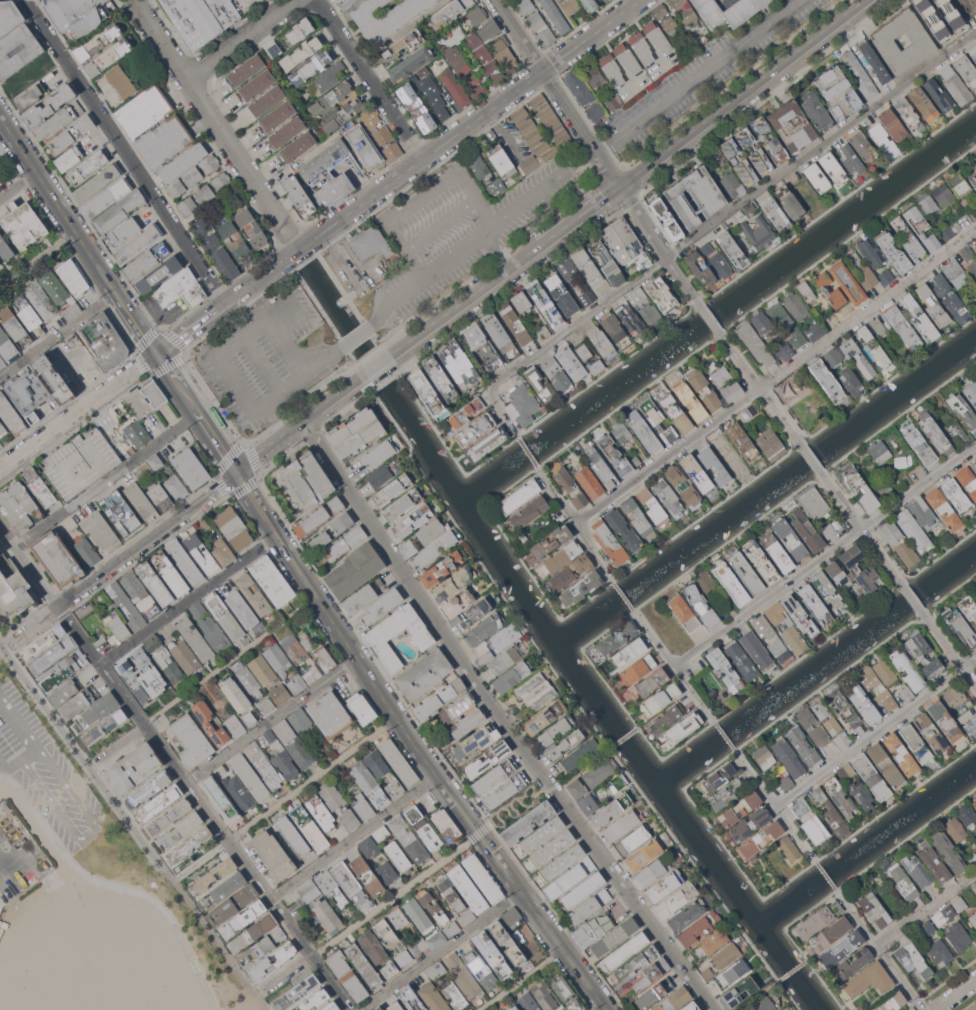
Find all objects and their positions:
road: (301, 0)
building: (559, 0)
building: (346, 3)
building: (591, 4)
building: (678, 4)
building: (524, 6)
building: (570, 6)
building: (728, 11)
building: (975, 11)
building: (660, 12)
building: (449, 13)
building: (949, 13)
building: (78, 15)
building: (555, 15)
building: (688, 16)
building: (9, 17)
building: (386, 17)
building: (931, 17)
building: (199, 18)
building: (473, 18)
building: (535, 21)
building: (669, 26)
building: (489, 30)
building: (297, 33)
building: (656, 36)
building: (546, 37)
road: (245, 38)
building: (97, 41)
building: (883, 41)
building: (400, 47)
building: (478, 47)
building: (641, 47)
building: (18, 50)
building: (274, 50)
building: (972, 52)
building: (300, 53)
building: (504, 54)
building: (108, 56)
building: (627, 58)
building: (457, 60)
building: (412, 63)
building: (875, 63)
building: (490, 67)
building: (310, 68)
building: (611, 69)
building: (245, 70)
building: (966, 71)
parking lot: (706, 72)
building: (858, 75)
road: (699, 76)
building: (329, 77)
road: (369, 77)
building: (497, 77)
building: (595, 77)
building: (121, 81)
building: (471, 81)
building: (255, 86)
building: (955, 86)
building: (454, 87)
building: (579, 87)
building: (478, 91)
road: (556, 93)
road: (739, 93)
building: (836, 93)
building: (938, 94)
building: (433, 96)
building: (28, 98)
building: (331, 99)
building: (266, 101)
building: (612, 102)
building: (922, 104)
building: (47, 107)
building: (418, 109)
building: (144, 110)
building: (595, 112)
building: (815, 112)
building: (908, 114)
building: (341, 115)
building: (276, 117)
building: (371, 119)
building: (55, 122)
road: (216, 124)
building: (892, 125)
building: (793, 126)
building: (759, 127)
building: (286, 132)
building: (72, 133)
building: (540, 133)
building: (381, 136)
building: (744, 138)
building: (164, 141)
building: (884, 142)
building: (363, 145)
building: (862, 146)
building: (296, 147)
building: (730, 149)
road: (125, 151)
building: (392, 151)
building: (776, 152)
building: (715, 157)
building: (69, 158)
building: (851, 160)
building: (183, 162)
building: (370, 162)
building: (209, 163)
building: (761, 163)
building: (503, 164)
building: (87, 167)
building: (833, 169)
road: (432, 170)
building: (746, 173)
building: (328, 174)
building: (486, 174)
road: (397, 175)
building: (192, 177)
building: (817, 179)
building: (973, 179)
building: (221, 181)
building: (97, 183)
building: (959, 185)
building: (733, 186)
road: (18, 187)
building: (176, 189)
road: (545, 189)
building: (204, 194)
building: (943, 194)
building: (298, 195)
building: (696, 195)
building: (107, 198)
road: (420, 198)
building: (789, 202)
building: (927, 204)
building: (187, 206)
road: (58, 207)
building: (213, 208)
building: (748, 208)
road: (732, 209)
building: (118, 212)
building: (774, 212)
road: (578, 214)
building: (666, 219)
building: (23, 225)
road: (440, 225)
building: (957, 225)
building: (200, 227)
parking lot: (462, 227)
building: (921, 228)
building: (251, 229)
building: (124, 231)
building: (948, 232)
building: (759, 233)
building: (908, 240)
building: (234, 241)
building: (211, 243)
building: (370, 243)
building: (137, 244)
building: (624, 244)
road: (658, 244)
building: (975, 247)
building: (730, 248)
building: (5, 249)
building: (706, 250)
building: (975, 250)
building: (871, 251)
building: (893, 252)
building: (967, 252)
road: (351, 253)
building: (146, 260)
road: (38, 261)
building: (386, 261)
building: (0, 263)
building: (607, 263)
building: (225, 264)
building: (586, 266)
building: (720, 266)
building: (567, 268)
building: (700, 269)
building: (862, 270)
building: (972, 270)
building: (954, 271)
road: (430, 272)
building: (158, 274)
building: (886, 276)
building: (74, 277)
building: (848, 283)
building: (53, 286)
building: (180, 289)
road: (716, 289)
building: (805, 290)
road: (505, 292)
building: (537, 293)
building: (833, 294)
building: (661, 295)
building: (561, 296)
building: (636, 296)
building: (950, 297)
building: (587, 298)
road: (464, 299)
building: (272, 300)
building: (41, 301)
building: (521, 302)
building: (933, 305)
building: (796, 306)
building: (70, 310)
road: (868, 310)
building: (650, 313)
building: (552, 315)
building: (29, 316)
building: (919, 317)
building: (630, 319)
road: (709, 319)
building: (762, 322)
building: (514, 323)
road: (733, 323)
road: (136, 324)
building: (785, 324)
building: (14, 327)
building: (902, 327)
building: (878, 328)
road: (165, 332)
building: (616, 332)
building: (815, 332)
building: (542, 334)
road: (58, 335)
road: (357, 337)
building: (500, 337)
building: (101, 341)
building: (602, 343)
building: (755, 343)
building: (481, 345)
building: (7, 346)
building: (874, 346)
building: (783, 350)
road: (287, 352)
building: (583, 352)
traffic signals: (157, 353)
building: (833, 357)
building: (858, 357)
parking lot: (266, 358)
road: (219, 360)
road: (262, 361)
building: (2, 362)
building: (571, 364)
building: (459, 365)
building: (550, 365)
road: (376, 366)
building: (597, 367)
road: (167, 368)
building: (721, 375)
building: (975, 377)
building: (53, 378)
building: (440, 379)
road: (384, 380)
building: (851, 380)
building: (827, 381)
building: (561, 383)
building: (539, 384)
road: (757, 385)
building: (35, 386)
road: (281, 387)
building: (703, 389)
building: (732, 391)
building: (970, 391)
building: (153, 393)
building: (427, 393)
building: (21, 398)
road: (187, 398)
building: (664, 398)
road: (333, 399)
building: (138, 403)
building: (524, 404)
building: (695, 405)
road: (78, 409)
road: (342, 410)
building: (963, 410)
road: (502, 412)
building: (747, 413)
building: (465, 414)
building: (11, 415)
road: (273, 418)
building: (658, 420)
road: (432, 422)
building: (131, 424)
building: (687, 424)
building: (2, 428)
building: (476, 429)
building: (621, 431)
building: (114, 432)
building: (644, 432)
building: (934, 433)
building: (957, 433)
building: (357, 435)
road: (216, 442)
building: (743, 442)
building: (769, 443)
building: (486, 444)
building: (919, 444)
road: (268, 447)
road: (528, 451)
building: (879, 451)
building: (378, 453)
road: (667, 455)
building: (728, 455)
building: (614, 456)
road: (809, 456)
building: (155, 460)
building: (635, 460)
building: (903, 461)
building: (80, 462)
road: (773, 462)
building: (973, 463)
road: (254, 465)
building: (714, 465)
building: (191, 468)
building: (602, 468)
building: (145, 472)
traffic signals: (235, 474)
building: (695, 474)
building: (379, 476)
building: (587, 478)
road: (105, 479)
building: (306, 480)
building: (906, 480)
building: (967, 481)
road: (919, 484)
building: (39, 486)
building: (176, 486)
building: (571, 487)
building: (683, 487)
building: (865, 489)
building: (885, 489)
building: (391, 490)
road: (210, 492)
building: (955, 494)
building: (519, 496)
building: (161, 497)
building: (668, 497)
road: (783, 499)
building: (141, 502)
building: (813, 503)
building: (335, 504)
building: (402, 505)
building: (653, 506)
building: (19, 507)
building: (944, 510)
building: (119, 511)
building: (529, 512)
building: (923, 512)
building: (637, 516)
building: (413, 521)
building: (311, 522)
building: (342, 523)
road: (575, 523)
road: (864, 527)
building: (234, 528)
building: (806, 529)
building: (623, 530)
building: (101, 531)
building: (828, 531)
building: (430, 532)
building: (914, 533)
building: (789, 538)
building: (320, 541)
building: (347, 541)
building: (609, 542)
building: (550, 543)
building: (899, 543)
building: (408, 548)
building: (436, 548)
building: (87, 551)
building: (934, 552)
building: (201, 553)
building: (223, 553)
building: (563, 557)
building: (779, 557)
building: (57, 558)
road: (121, 558)
road: (523, 560)
building: (184, 562)
building: (761, 562)
road: (28, 566)
building: (439, 569)
building: (860, 569)
building: (354, 570)
building: (746, 572)
building: (170, 573)
building: (571, 573)
building: (837, 574)
building: (272, 580)
building: (155, 583)
building: (453, 583)
building: (731, 583)
building: (707, 584)
building: (581, 588)
building: (12, 589)
building: (828, 591)
building: (140, 594)
building: (253, 595)
road: (622, 595)
road: (769, 596)
road: (188, 600)
building: (359, 600)
building: (460, 601)
road: (913, 601)
building: (815, 603)
building: (125, 605)
building: (701, 605)
building: (381, 606)
building: (969, 609)
building: (242, 610)
building: (476, 612)
building: (683, 612)
building: (775, 613)
building: (224, 616)
building: (800, 617)
building: (960, 626)
road: (28, 627)
building: (118, 627)
building: (210, 628)
building: (256, 629)
building: (484, 629)
building: (505, 637)
building: (771, 637)
building: (376, 638)
building: (617, 638)
building: (196, 639)
building: (794, 639)
road: (822, 639)
building: (42, 641)
building: (306, 641)
building: (152, 642)
road: (1, 646)
building: (294, 649)
building: (756, 650)
building: (630, 652)
building: (923, 653)
road: (951, 654)
building: (52, 655)
building: (185, 657)
building: (506, 657)
building: (485, 658)
building: (277, 659)
building: (323, 659)
building: (740, 660)
building: (168, 664)
road: (673, 664)
building: (65, 669)
building: (148, 669)
building: (262, 669)
building: (725, 669)
building: (885, 670)
building: (908, 670)
building: (637, 671)
building: (312, 674)
building: (424, 674)
road: (833, 675)
building: (512, 677)
building: (868, 677)
building: (248, 679)
road: (201, 681)
building: (650, 683)
building: (296, 684)
building: (536, 691)
building: (906, 692)
building: (63, 693)
building: (279, 693)
building: (235, 694)
building: (953, 697)
building: (661, 698)
building: (839, 699)
building: (439, 700)
building: (885, 700)
building: (863, 702)
building: (969, 703)
building: (76, 704)
road: (577, 704)
road: (621, 704)
building: (102, 705)
building: (267, 705)
building: (361, 708)
building: (457, 708)
building: (821, 710)
building: (962, 710)
building: (522, 712)
building: (330, 715)
building: (852, 716)
building: (965, 716)
building: (545, 717)
building: (806, 717)
building: (249, 718)
road: (503, 719)
road: (271, 720)
building: (666, 720)
building: (300, 721)
building: (945, 721)
building: (209, 723)
building: (468, 723)
building: (235, 725)
building: (832, 725)
building: (971, 726)
building: (103, 727)
building: (682, 729)
building: (555, 730)
road: (876, 730)
building: (931, 732)
road: (723, 734)
building: (820, 735)
road: (623, 737)
building: (842, 739)
building: (191, 740)
building: (477, 740)
building: (915, 743)
building: (293, 744)
building: (565, 744)
road: (415, 745)
road: (437, 746)
building: (803, 747)
building: (253, 750)
road: (29, 753)
building: (901, 754)
building: (581, 755)
building: (763, 756)
building: (282, 757)
building: (788, 757)
building: (487, 759)
building: (399, 762)
road: (87, 764)
building: (886, 765)
building: (133, 768)
road: (581, 769)
parking lot: (44, 771)
building: (847, 771)
building: (384, 772)
building: (270, 776)
building: (871, 776)
building: (250, 777)
building: (493, 777)
building: (593, 777)
building: (720, 777)
building: (366, 780)
building: (786, 782)
building: (618, 783)
building: (148, 788)
building: (237, 790)
building: (505, 790)
building: (726, 795)
building: (861, 795)
road: (284, 798)
building: (841, 798)
building: (220, 800)
building: (384, 800)
building: (974, 802)
building: (158, 803)
road: (775, 803)
road: (511, 805)
building: (588, 805)
building: (339, 806)
road: (204, 807)
building: (363, 807)
building: (800, 808)
building: (612, 809)
building: (739, 809)
road: (86, 813)
building: (321, 813)
building: (830, 813)
building: (169, 816)
building: (967, 816)
road: (869, 819)
building: (528, 822)
building: (750, 824)
building: (445, 825)
building: (622, 825)
building: (309, 828)
building: (422, 828)
building: (815, 829)
building: (955, 829)
building: (179, 830)
building: (381, 833)
building: (542, 834)
building: (292, 835)
road: (906, 836)
road: (354, 837)
building: (761, 839)
building: (409, 840)
building: (632, 840)
road: (722, 842)
building: (188, 845)
building: (369, 847)
building: (551, 848)
building: (789, 848)
building: (948, 852)
building: (272, 855)
building: (644, 855)
building: (398, 857)
building: (674, 858)
building: (562, 862)
building: (934, 862)
building: (917, 872)
building: (387, 873)
road: (825, 873)
building: (649, 874)
building: (367, 876)
road: (4, 877)
building: (211, 877)
building: (483, 878)
building: (902, 881)
building: (565, 882)
building: (349, 883)
building: (665, 886)
building: (974, 887)
road: (116, 888)
building: (331, 888)
building: (467, 889)
building: (309, 890)
building: (581, 890)
building: (221, 891)
building: (450, 892)
building: (677, 900)
building: (959, 904)
building: (232, 905)
building: (432, 906)
building: (590, 906)
building: (874, 909)
road: (926, 909)
building: (949, 912)
building: (326, 914)
road: (368, 914)
building: (688, 914)
building: (419, 916)
building: (511, 916)
building: (466, 917)
building: (243, 918)
building: (397, 918)
building: (973, 919)
building: (818, 920)
building: (939, 920)
building: (700, 928)
building: (928, 928)
building: (450, 929)
building: (254, 932)
building: (385, 932)
building: (833, 932)
building: (278, 933)
building: (587, 934)
building: (958, 936)
building: (615, 937)
building: (436, 939)
road: (793, 941)
building: (507, 943)
road: (221, 945)
building: (709, 945)
building: (418, 946)
building: (373, 947)
building: (841, 949)
road: (879, 949)
building: (626, 950)
building: (256, 951)
road: (442, 951)
building: (492, 953)
building: (941, 953)
building: (727, 955)
building: (403, 957)
road: (805, 959)
building: (272, 960)
building: (453, 960)
building: (913, 960)
building: (637, 962)
building: (339, 964)
building: (853, 964)
building: (362, 965)
building: (480, 968)
building: (388, 969)
road: (792, 970)
building: (436, 971)
building: (651, 974)
building: (708, 974)
building: (732, 974)
road: (520, 979)
building: (869, 980)
building: (468, 983)
building: (355, 987)
building: (714, 987)
building: (739, 990)
building: (295, 992)
park: (155, 993)
building: (654, 993)
building: (567, 994)
road: (757, 994)
road: (954, 994)
building: (453, 995)
building: (546, 996)
building: (433, 997)
building: (411, 999)
building: (313, 1000)
building: (673, 1000)
building: (528, 1002)
building: (892, 1002)
building: (765, 1003)
building: (395, 1006)
building: (690, 1006)
building: (329, 1007)
building: (377, 1008)
building: (513, 1008)
road: (603, 1008)
building: (860, 1008)
building: (913, 1009)
building: (975, 1009)

